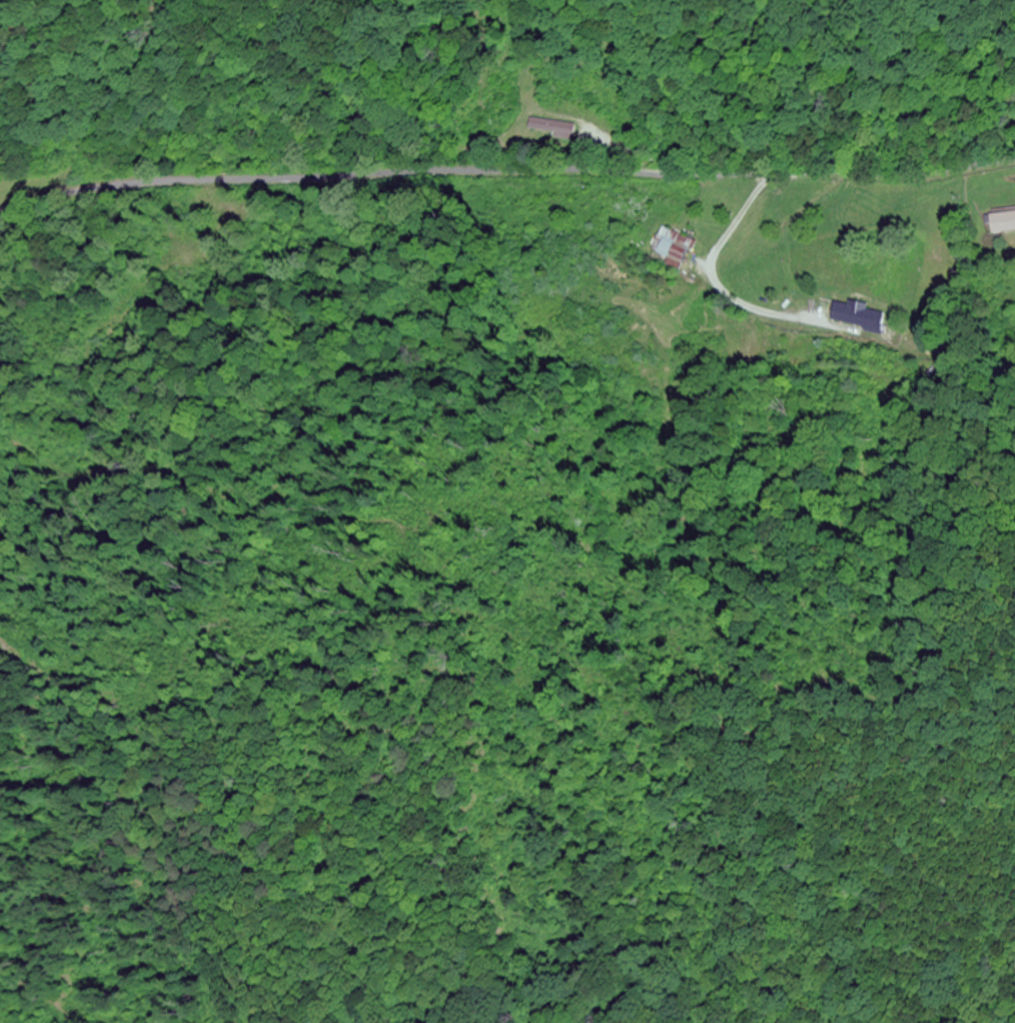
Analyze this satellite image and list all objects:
building: (552, 128)
road: (505, 172)
building: (1003, 222)
building: (674, 246)
building: (862, 317)

